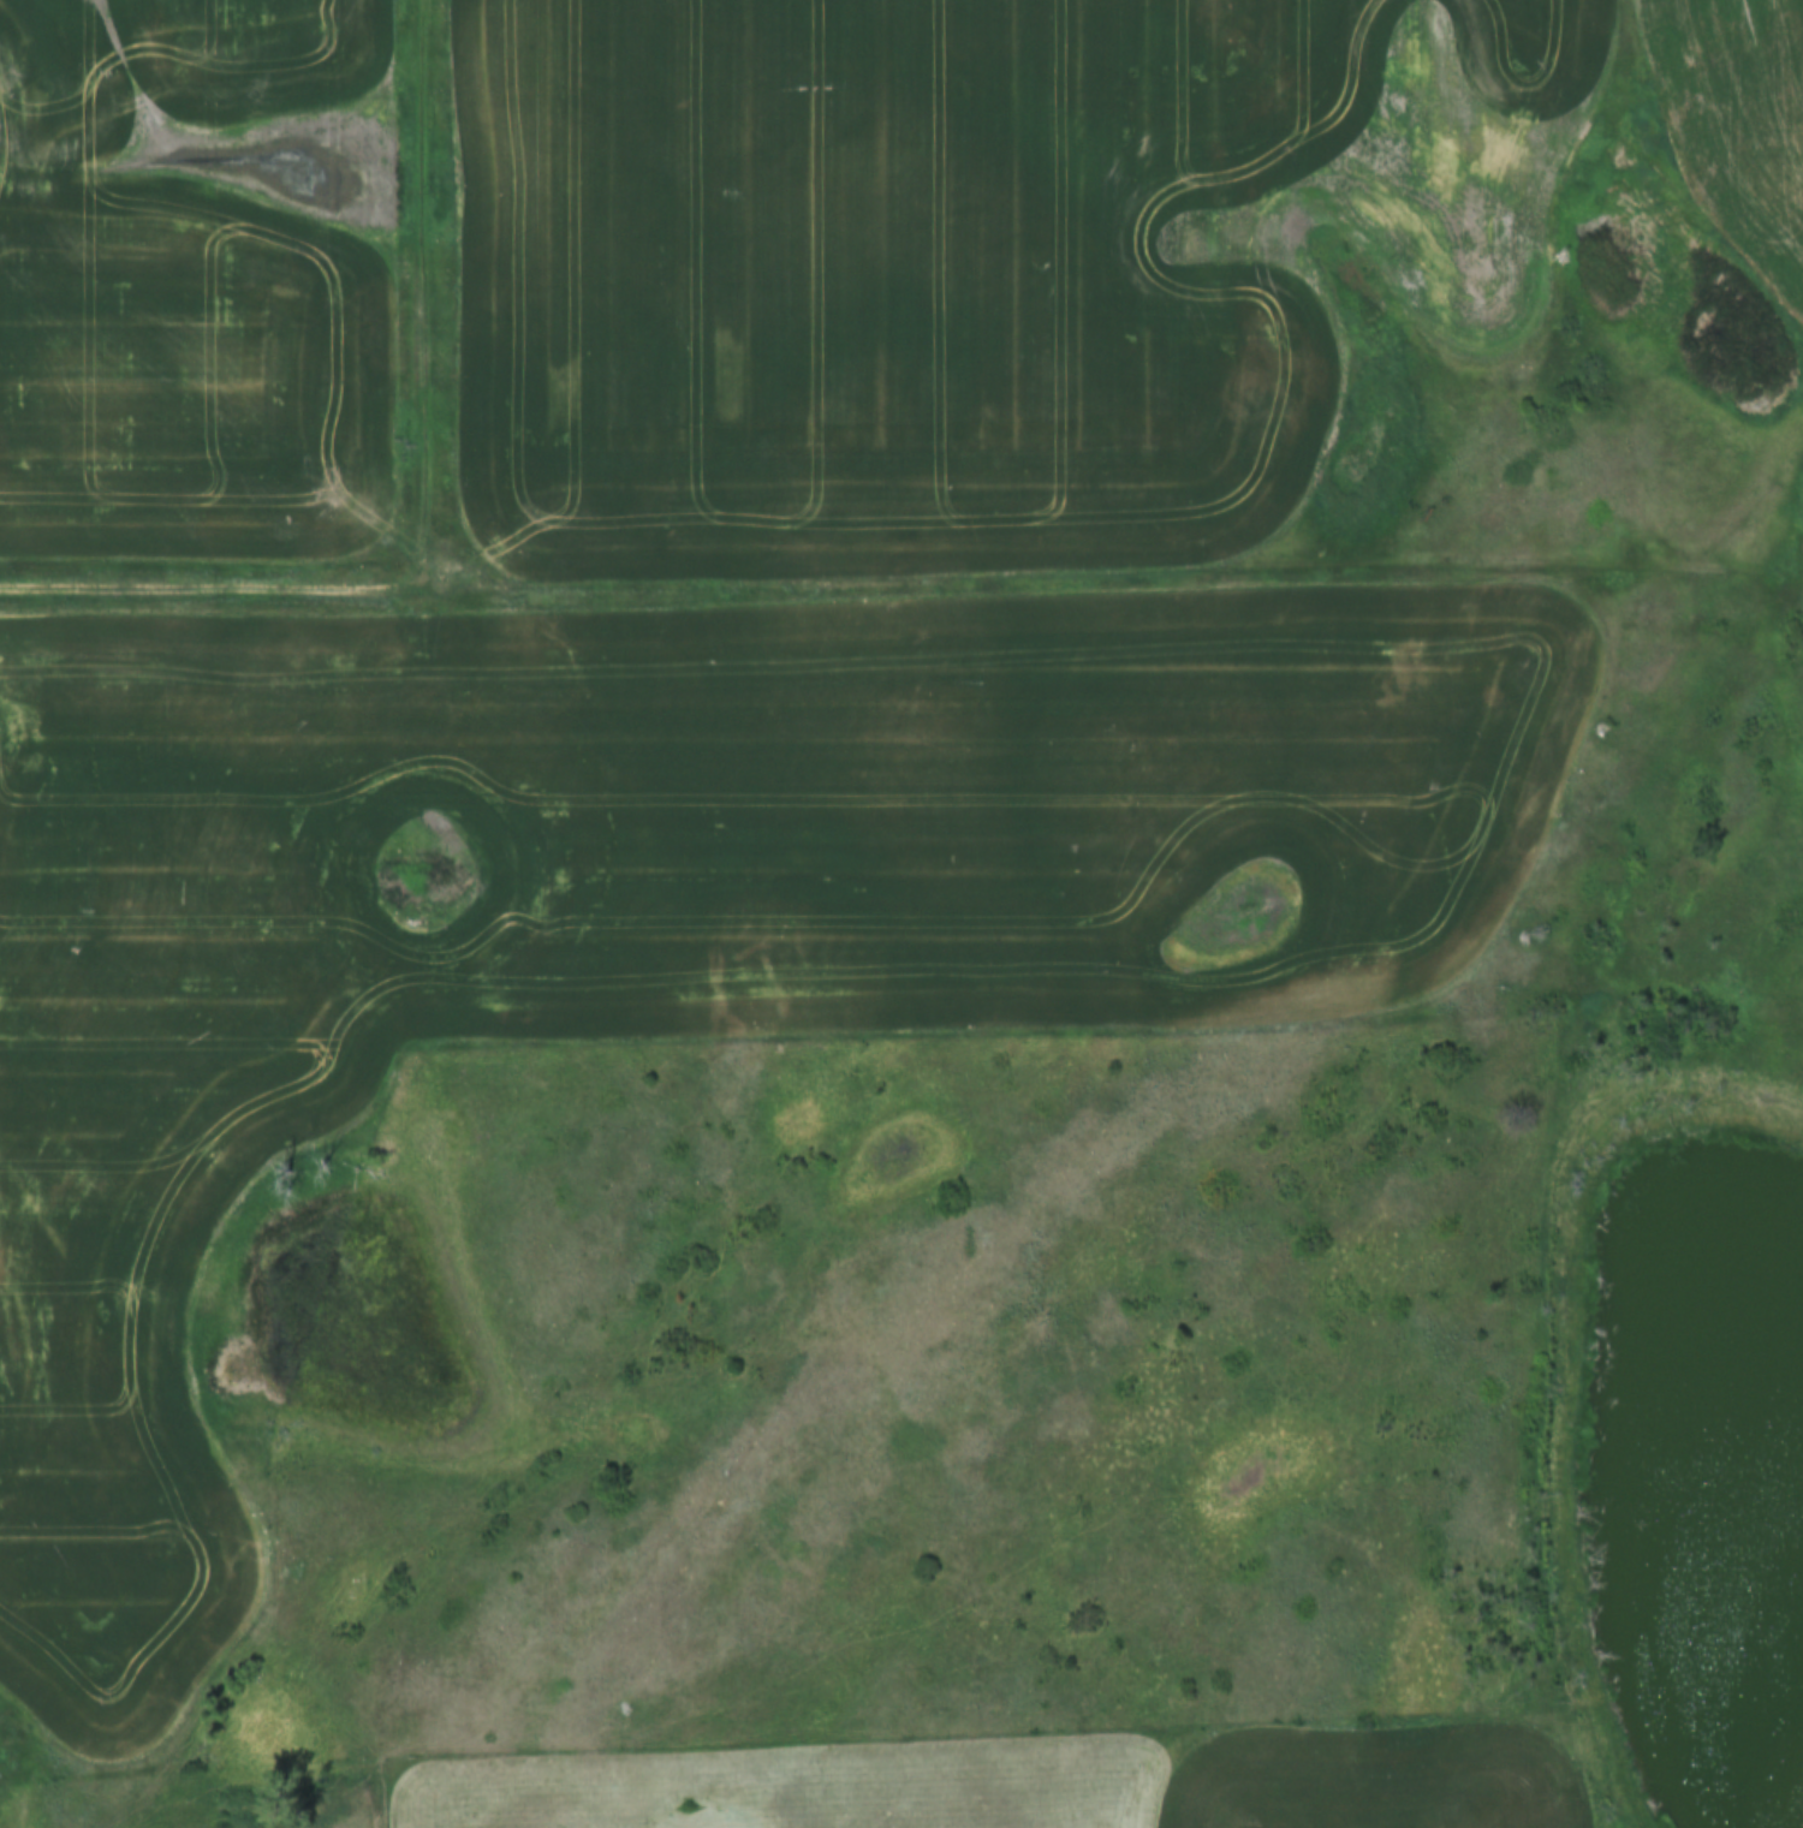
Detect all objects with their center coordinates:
road: (423, 291)
road: (901, 586)

